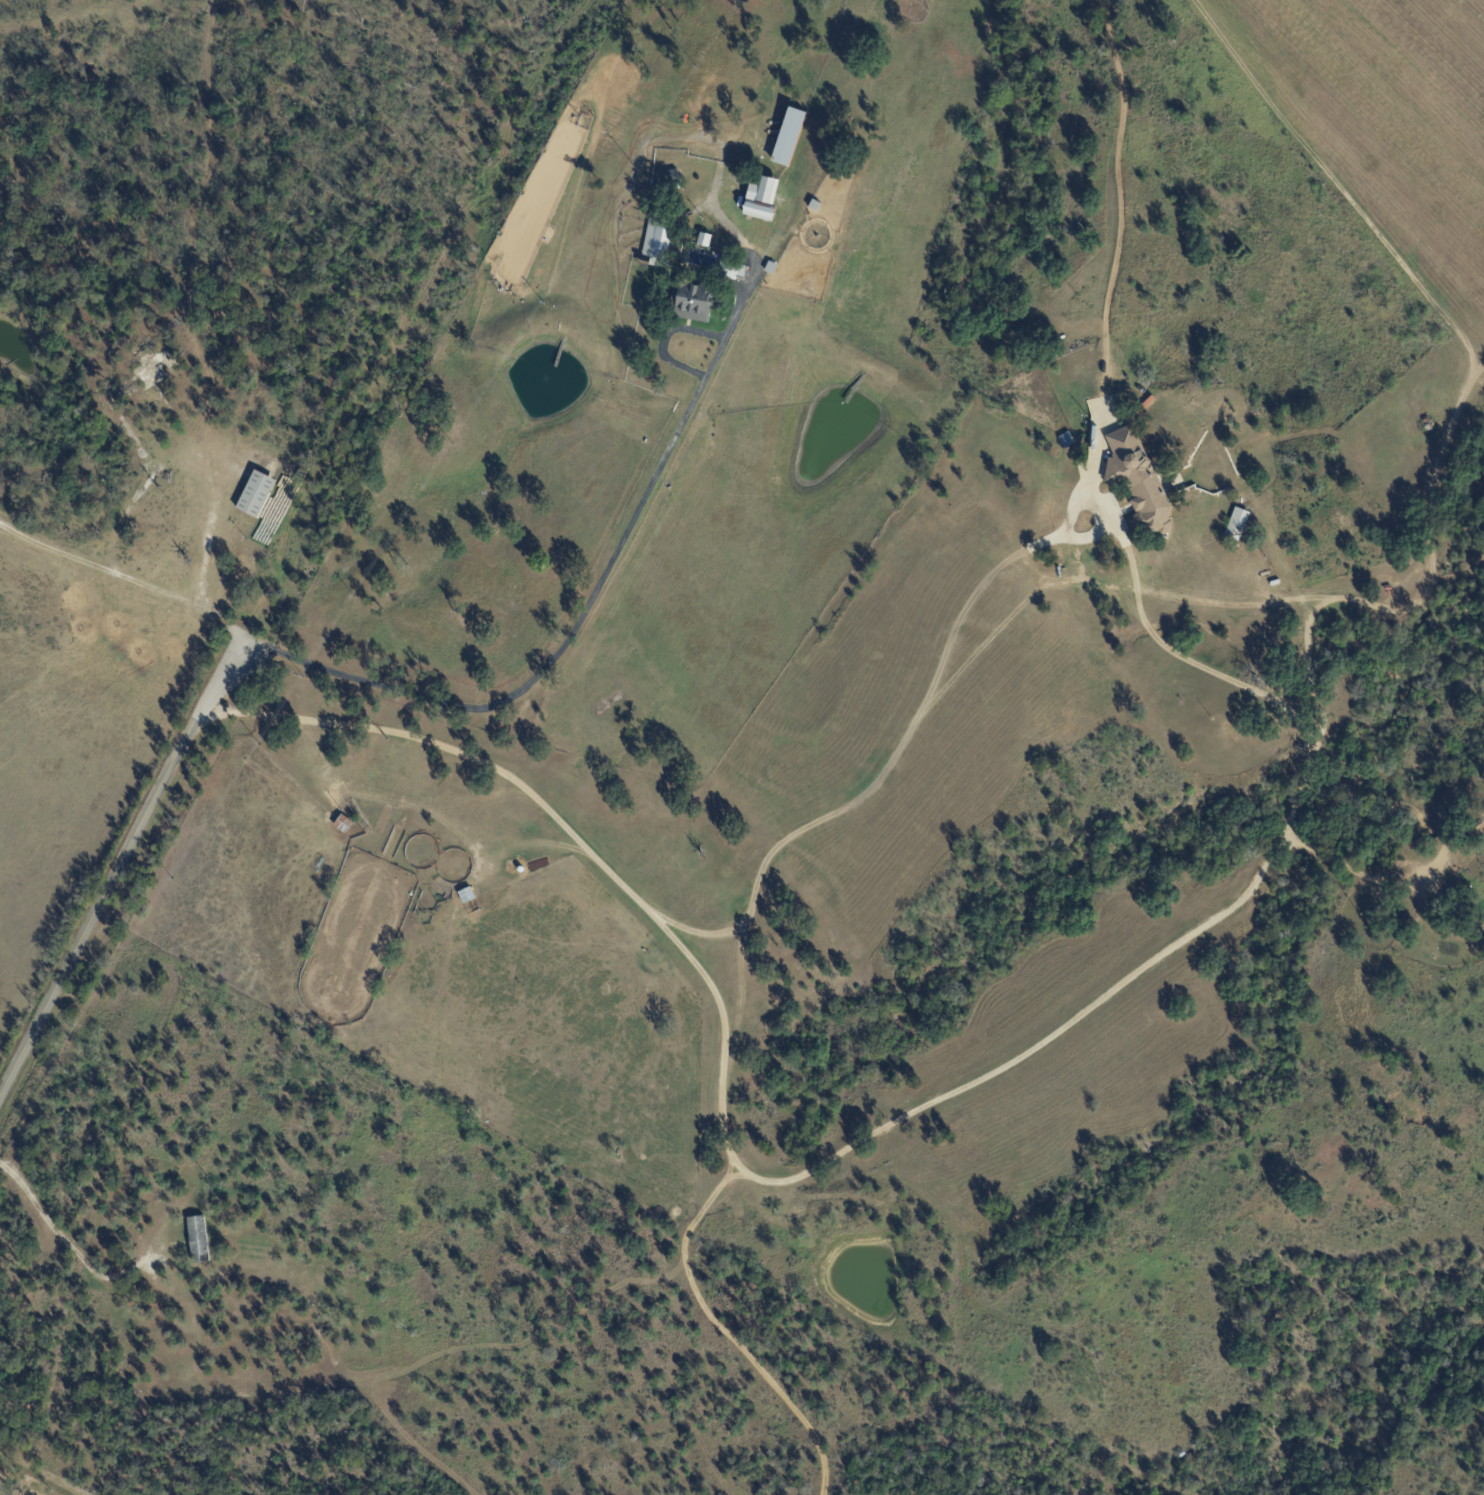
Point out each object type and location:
building: (788, 138)
building: (669, 179)
building: (765, 191)
building: (758, 212)
building: (703, 239)
building: (658, 242)
building: (829, 243)
building: (769, 268)
building: (740, 272)
building: (688, 303)
road: (663, 338)
building: (155, 369)
building: (1066, 440)
building: (1148, 447)
building: (1157, 485)
building: (256, 495)
building: (1236, 525)
road: (205, 543)
road: (275, 568)
road: (123, 575)
road: (595, 588)
road: (889, 762)
road: (119, 865)
road: (1363, 873)
building: (608, 990)
road: (833, 1158)
building: (197, 1239)
road: (72, 1246)
road: (724, 1331)
building: (1182, 1455)
building: (1193, 1457)
building: (1185, 1464)

